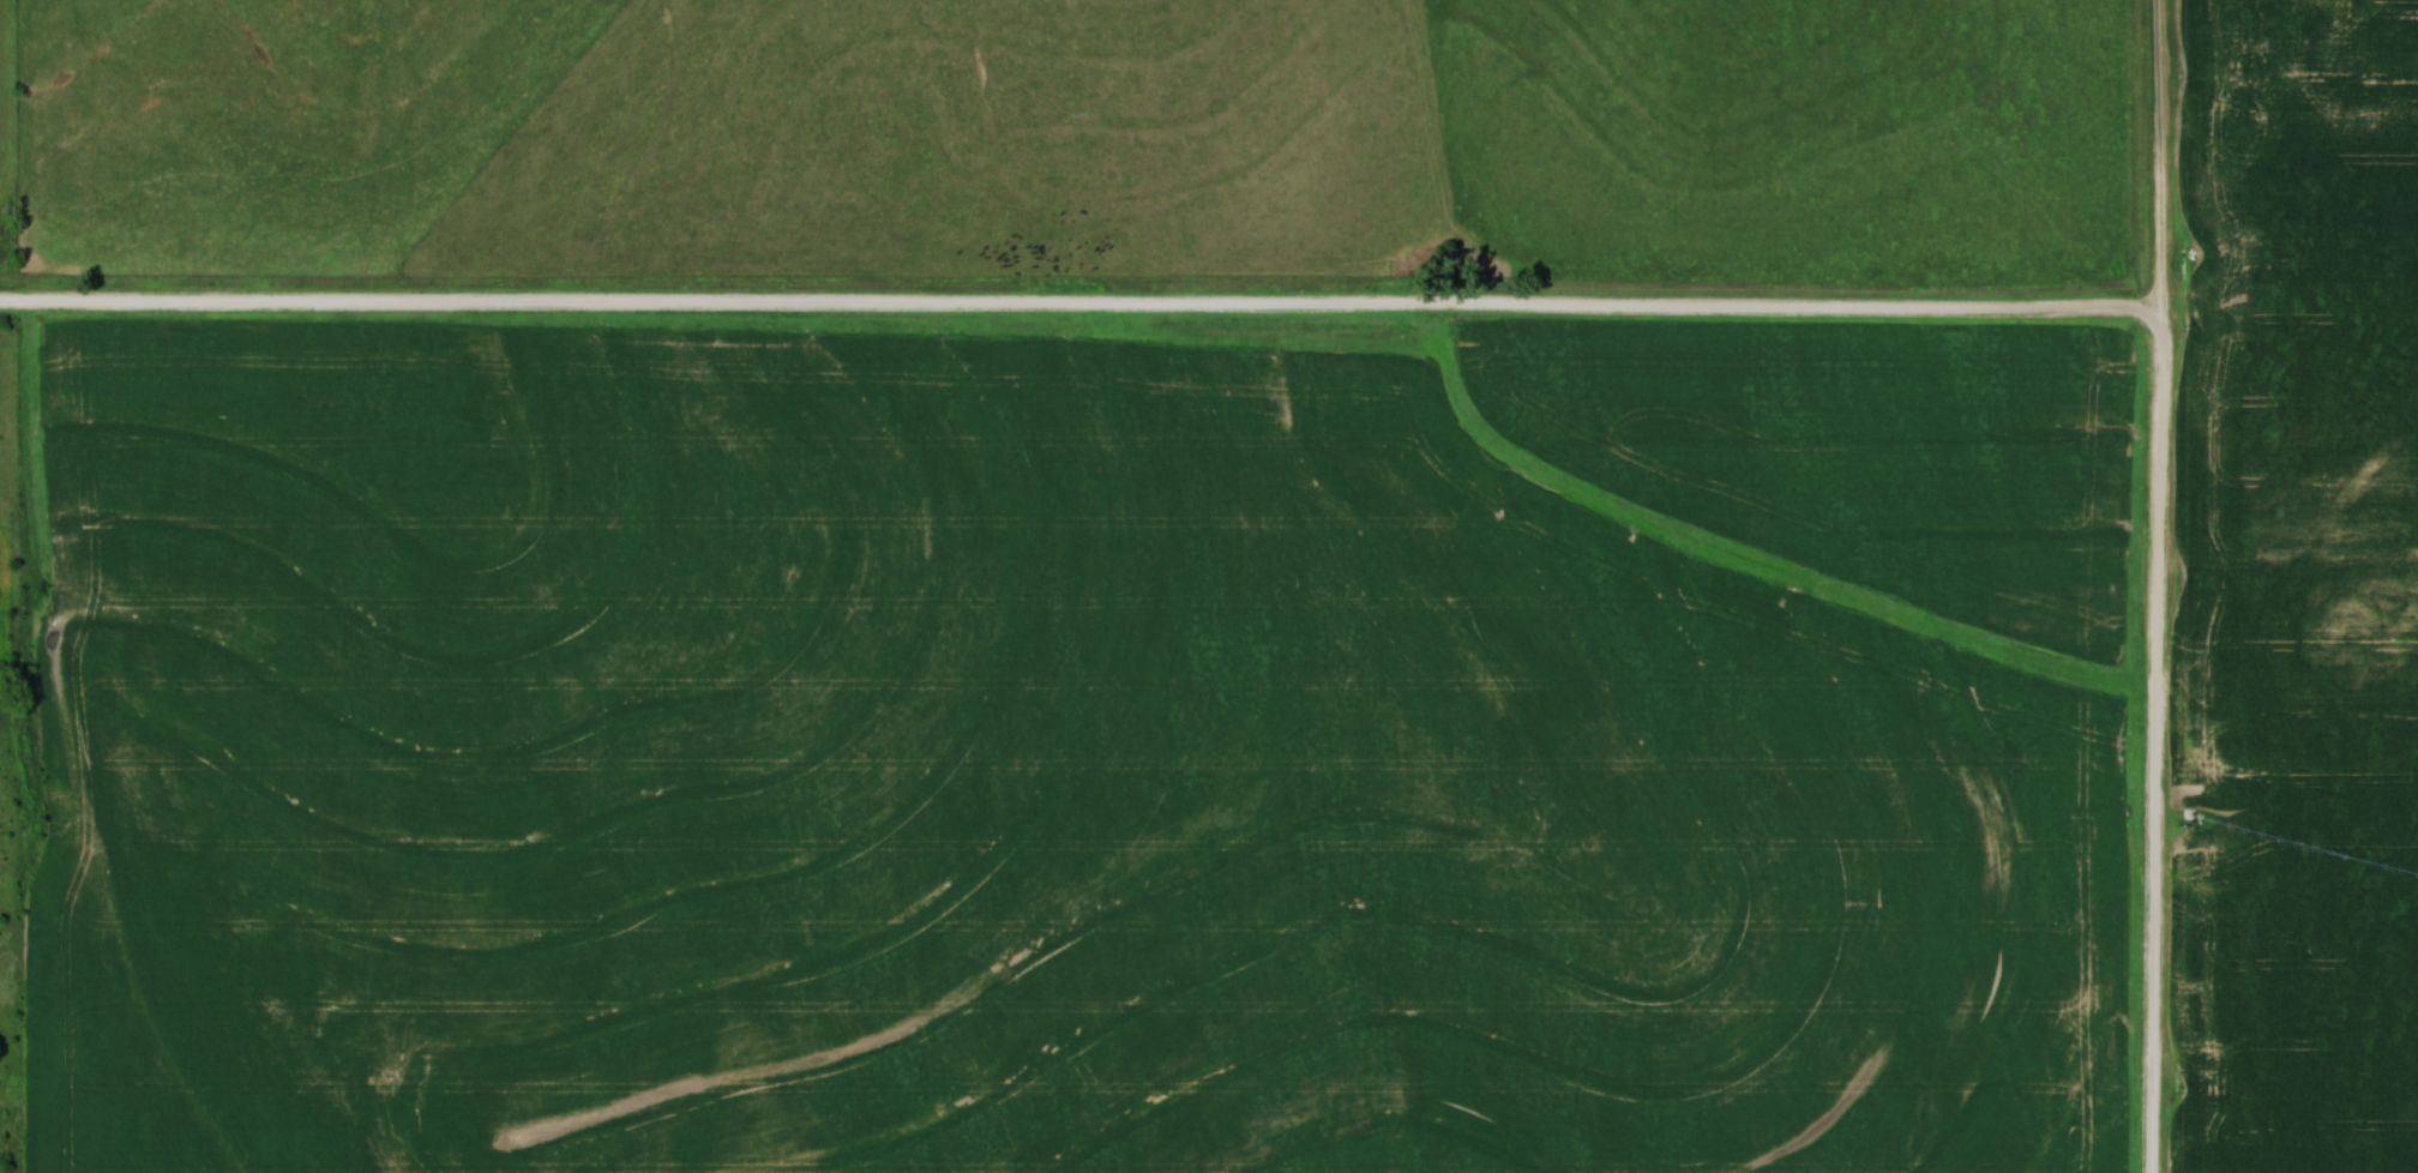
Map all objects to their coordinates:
building: (2224, 245)
road: (1079, 302)
road: (2158, 585)

